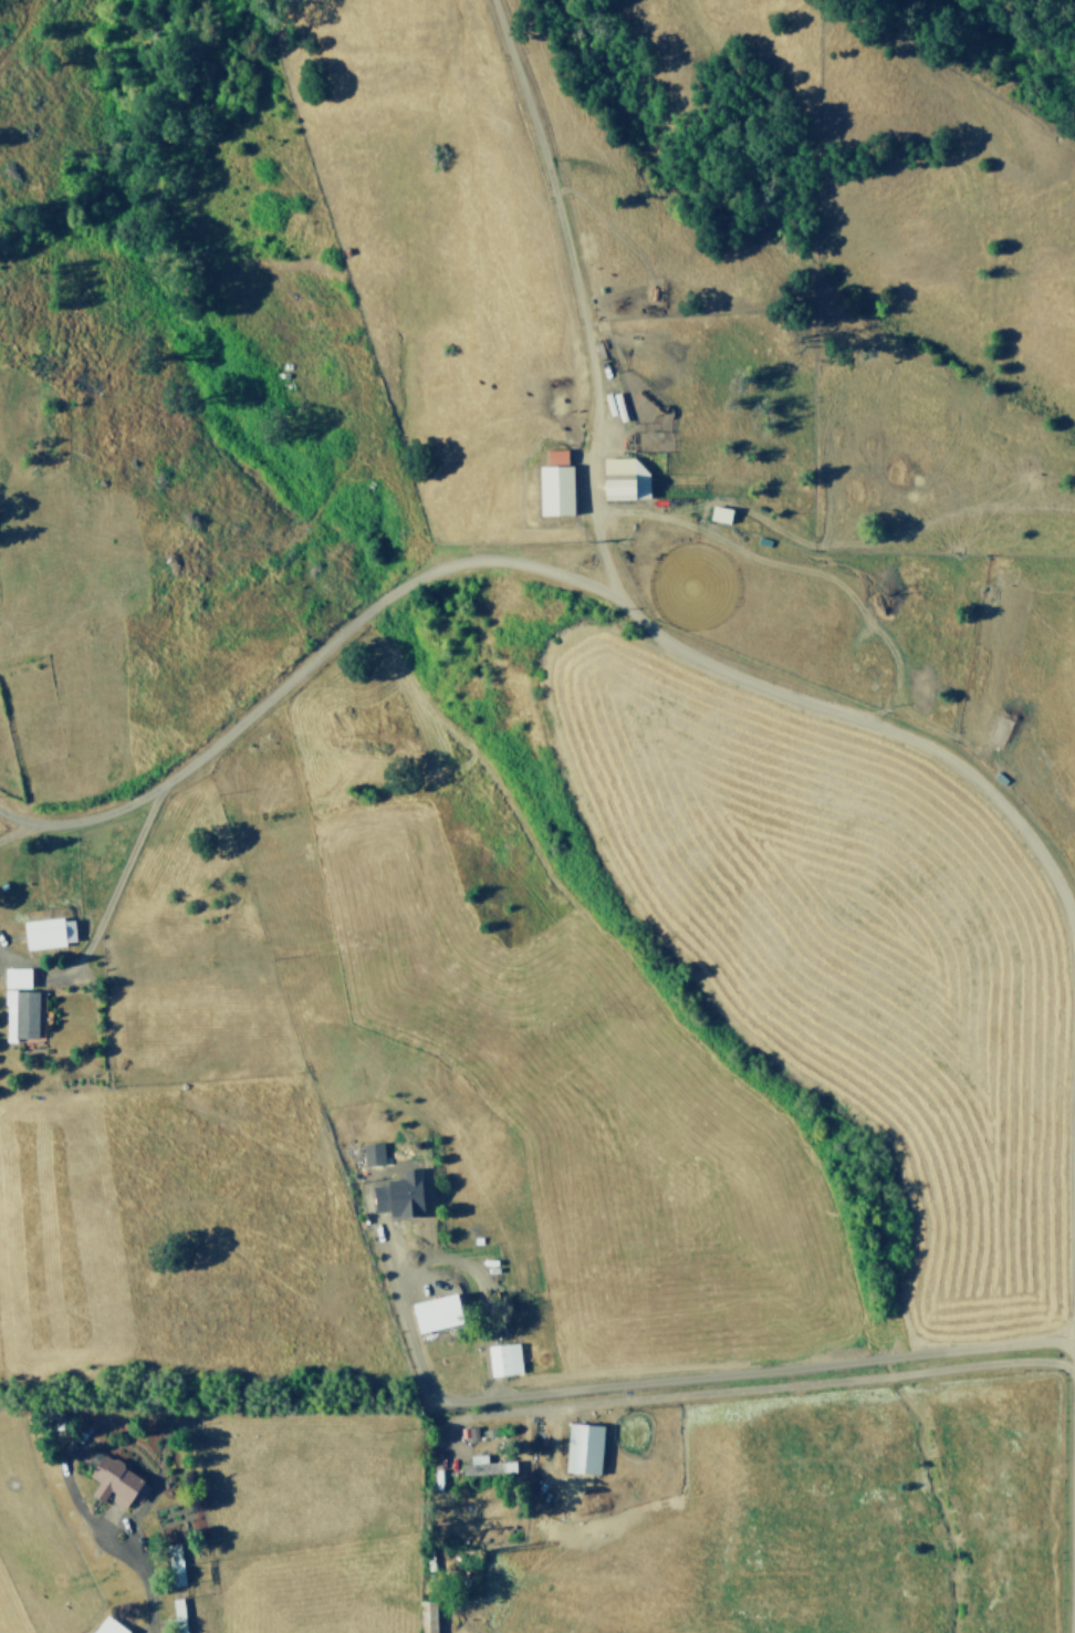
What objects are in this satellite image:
road: (567, 294)
building: (559, 457)
building: (622, 478)
building: (553, 489)
building: (719, 513)
road: (562, 574)
road: (19, 829)
crop: (563, 877)
road: (102, 912)
building: (48, 932)
building: (14, 977)
building: (20, 1013)
building: (372, 1154)
building: (398, 1195)
building: (434, 1312)
building: (504, 1359)
road: (662, 1381)
road: (1074, 1408)
building: (583, 1448)
building: (486, 1465)
building: (115, 1481)
building: (175, 1564)
road: (140, 1573)
building: (426, 1616)
building: (107, 1626)

